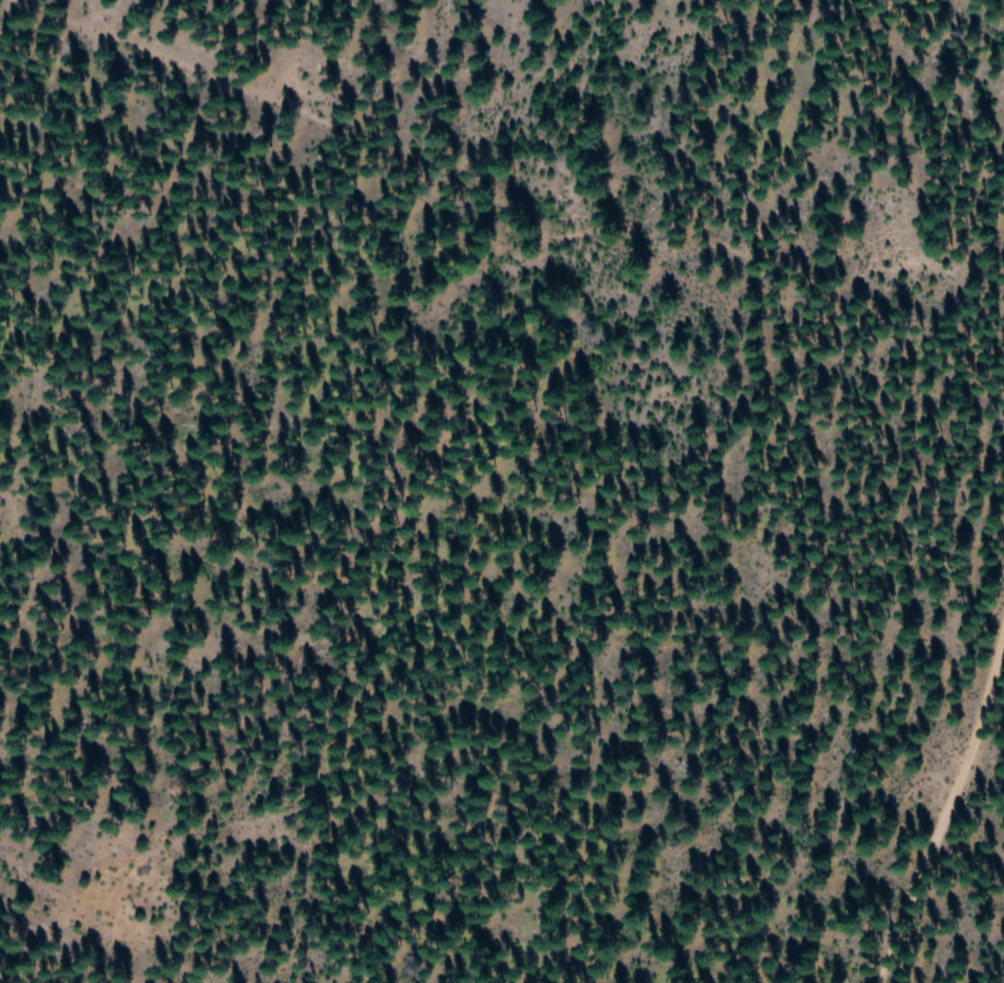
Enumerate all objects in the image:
road: (942, 807)

